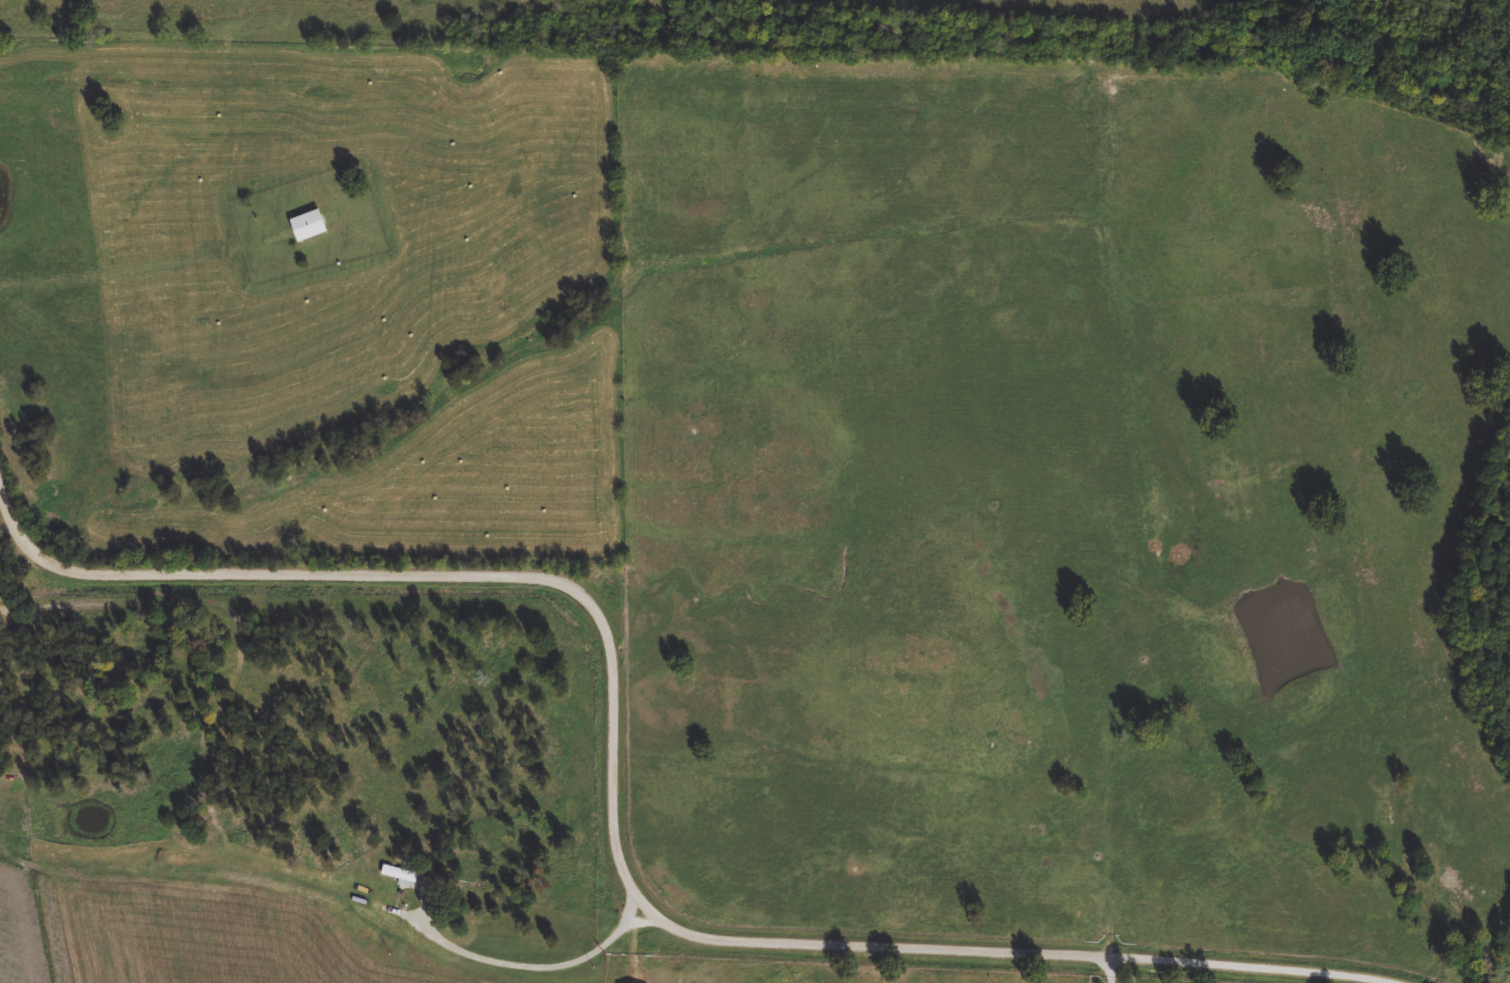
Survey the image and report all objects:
building: (309, 227)
road: (615, 816)
building: (401, 876)
road: (1113, 970)

